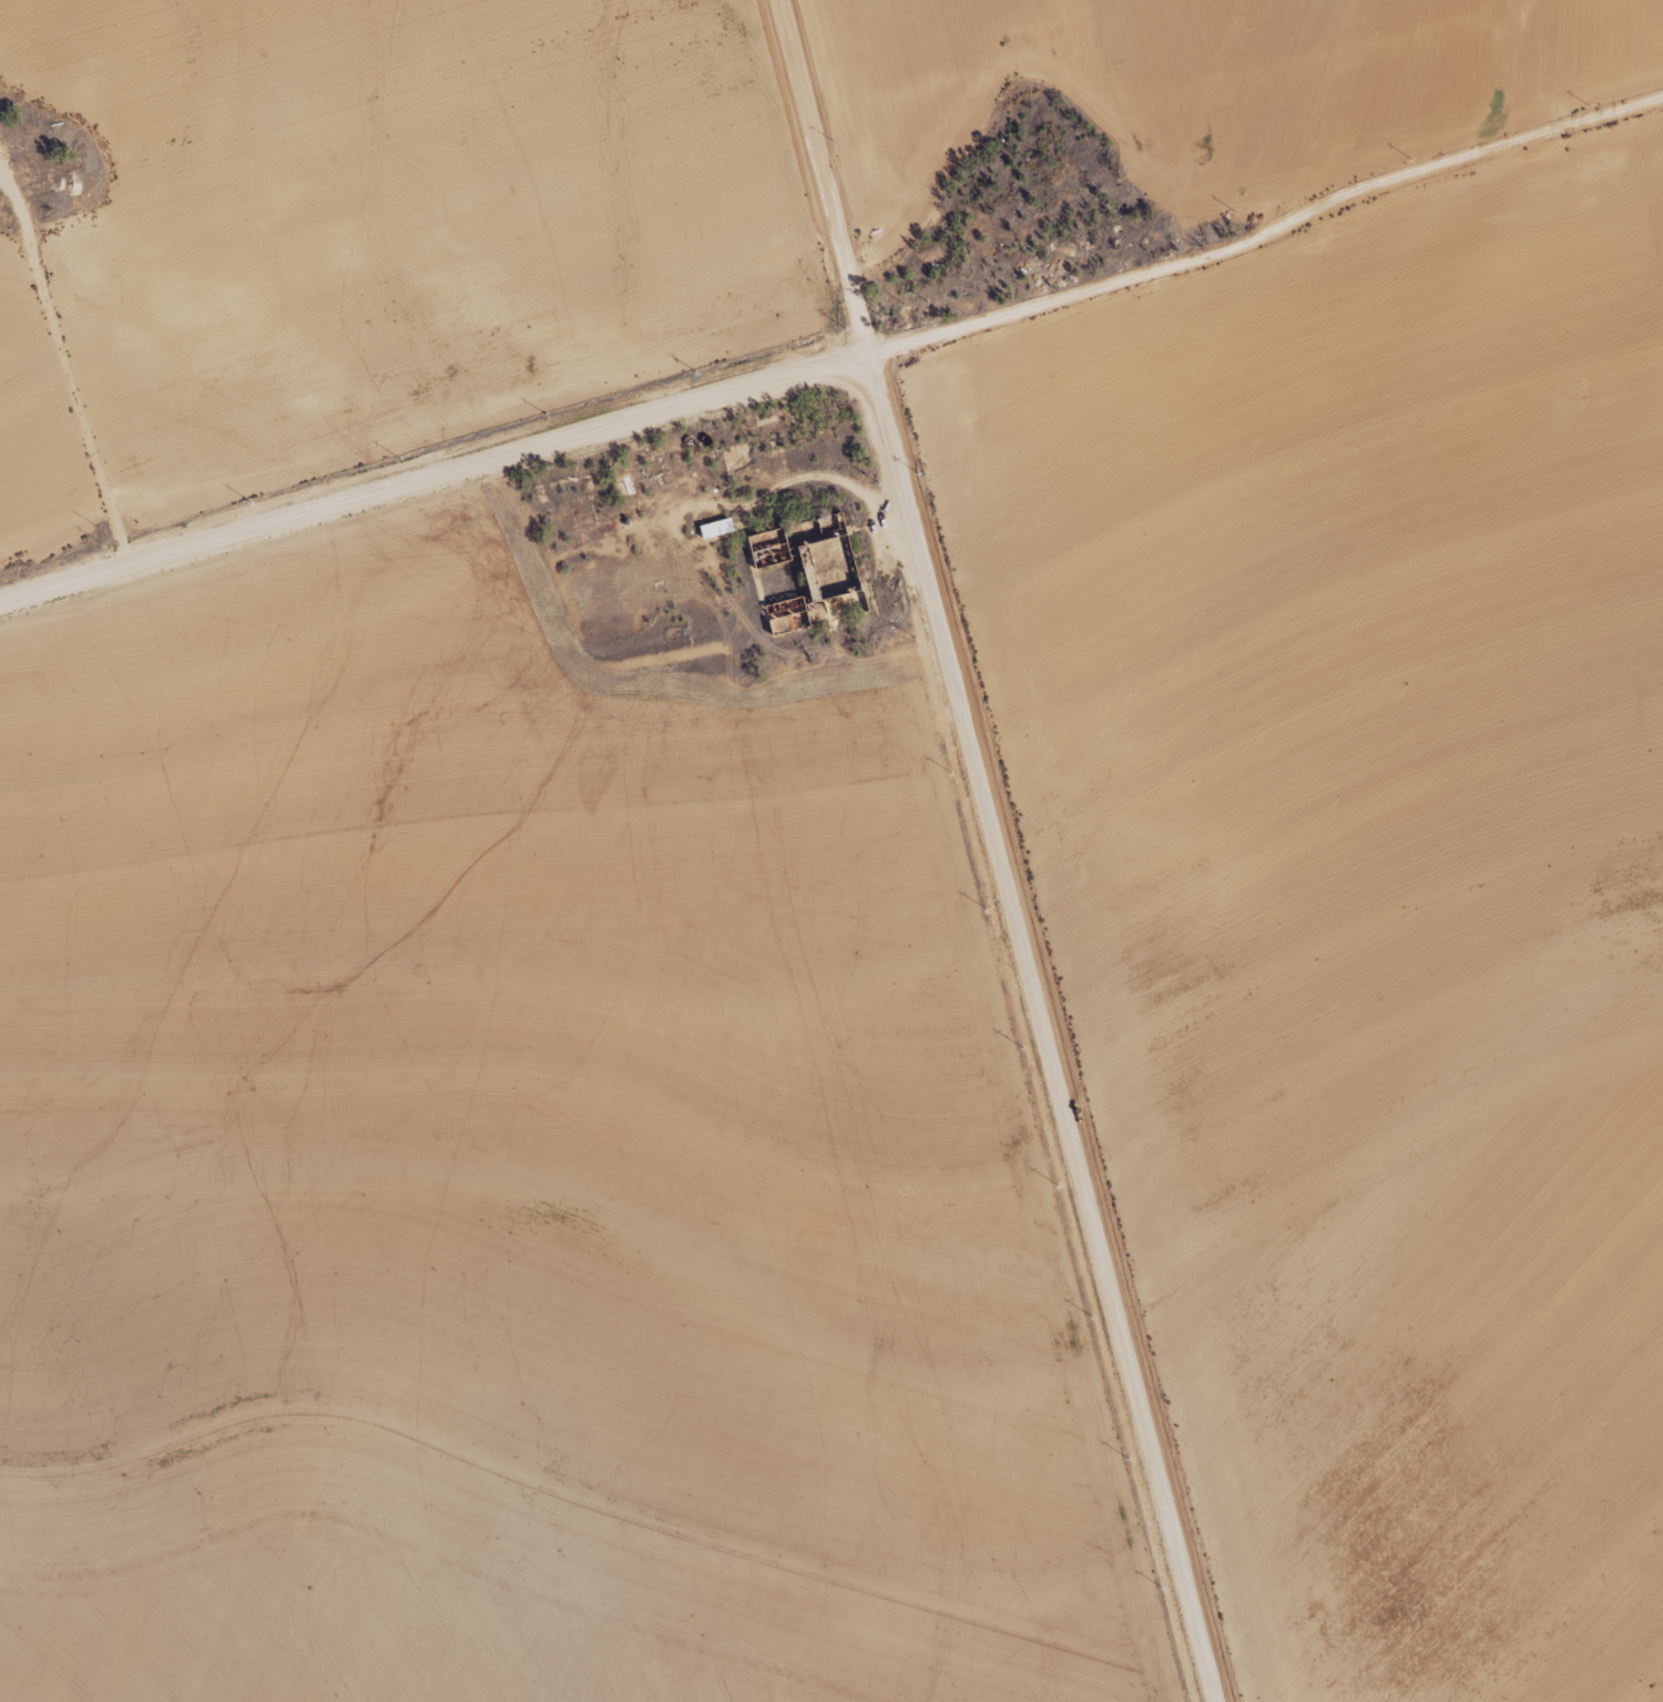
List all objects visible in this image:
road: (818, 174)
road: (75, 398)
road: (432, 473)
building: (802, 569)
road: (1040, 1025)

